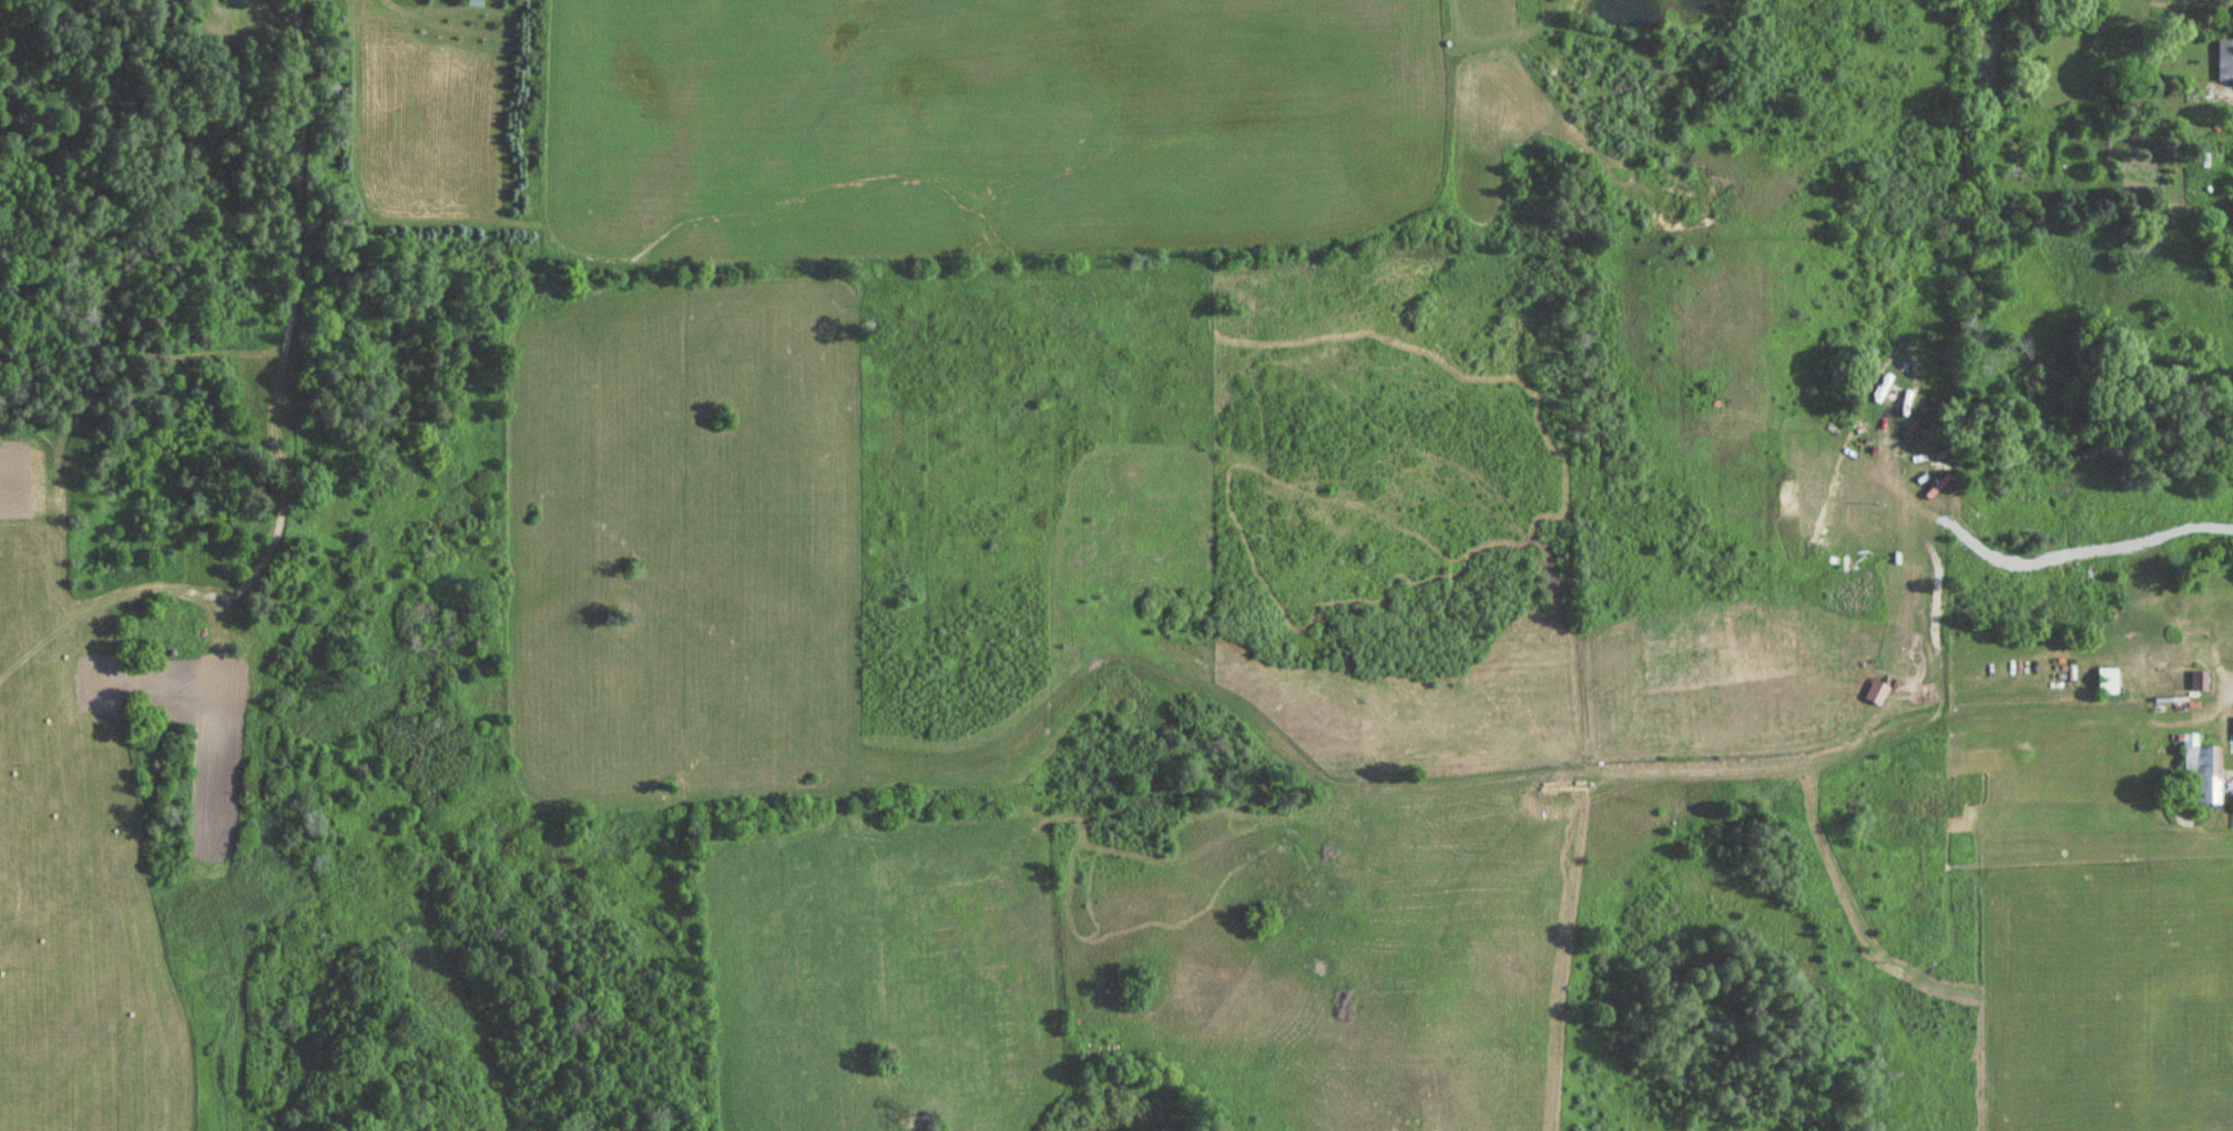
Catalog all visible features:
building: (2224, 60)
building: (2199, 681)
building: (2105, 682)
building: (2201, 776)

